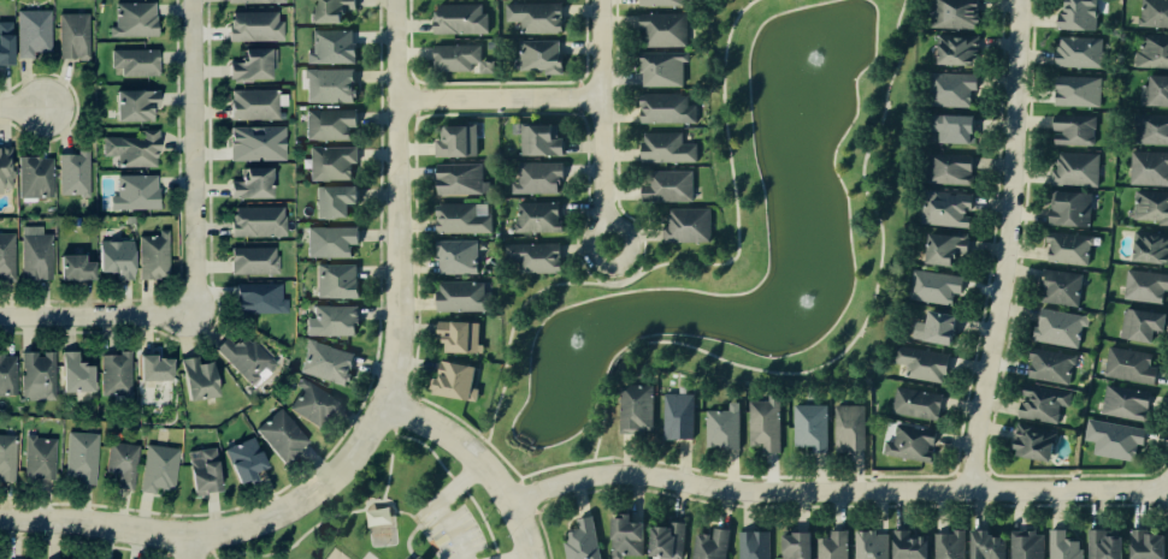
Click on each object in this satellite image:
building: (256, 1)
building: (661, 2)
building: (330, 10)
building: (954, 13)
building: (1154, 13)
building: (1078, 14)
building: (536, 17)
building: (460, 19)
building: (135, 20)
building: (255, 26)
building: (665, 29)
building: (34, 32)
building: (73, 36)
street lamp: (406, 37)
building: (6, 43)
building: (332, 47)
street lamp: (203, 49)
building: (957, 49)
building: (1080, 52)
building: (1152, 52)
building: (541, 55)
building: (460, 58)
building: (136, 61)
building: (253, 65)
building: (662, 67)
road: (496, 82)
road: (578, 82)
road: (414, 83)
building: (330, 84)
street lamp: (612, 89)
fountain: (801, 89)
building: (950, 89)
building: (1079, 90)
building: (1156, 91)
street lamp: (17, 93)
road: (579, 96)
road: (414, 97)
road: (499, 97)
building: (254, 105)
road: (77, 106)
building: (135, 106)
road: (20, 107)
street lamp: (430, 108)
building: (666, 108)
road: (578, 111)
road: (415, 113)
road: (601, 121)
building: (330, 124)
building: (954, 129)
building: (1075, 129)
building: (1151, 129)
building: (541, 139)
building: (456, 141)
building: (256, 143)
street lamp: (1025, 147)
building: (667, 148)
building: (134, 149)
road: (194, 157)
building: (331, 162)
building: (6, 167)
building: (1149, 167)
street lamp: (183, 168)
building: (948, 170)
building: (1076, 170)
building: (73, 174)
road: (728, 176)
building: (35, 177)
building: (538, 177)
building: (461, 179)
street lamp: (384, 182)
building: (252, 184)
building: (668, 185)
building: (135, 192)
building: (335, 201)
road: (399, 201)
street lamp: (590, 201)
building: (1151, 206)
building: (945, 208)
building: (1070, 208)
building: (538, 216)
building: (462, 219)
building: (258, 221)
building: (688, 225)
road: (179, 233)
park: (733, 238)
street lamp: (184, 242)
building: (331, 242)
road: (1009, 246)
building: (1151, 246)
building: (945, 248)
building: (1069, 248)
building: (36, 254)
building: (154, 256)
building: (458, 256)
building: (535, 256)
building: (7, 257)
building: (116, 258)
building: (254, 261)
building: (73, 268)
street lamp: (992, 274)
road: (210, 278)
building: (337, 281)
building: (1145, 285)
building: (934, 286)
building: (1062, 287)
building: (464, 296)
building: (259, 298)
fountain: (797, 298)
street lamp: (414, 317)
road: (94, 320)
building: (335, 320)
building: (1143, 325)
building: (1060, 327)
building: (939, 328)
road: (506, 334)
building: (460, 337)
road: (1007, 337)
road: (849, 339)
fountain: (566, 355)
building: (246, 358)
building: (326, 363)
building: (922, 363)
building: (1051, 365)
building: (1131, 365)
building: (154, 369)
building: (75, 374)
building: (7, 375)
building: (117, 375)
building: (37, 376)
building: (199, 379)
building: (455, 381)
road: (406, 392)
road: (360, 402)
building: (918, 403)
building: (1043, 403)
building: (1126, 403)
building: (313, 404)
street lamp: (365, 404)
building: (637, 408)
road: (396, 410)
street lamp: (989, 414)
building: (678, 416)
road: (458, 420)
building: (766, 423)
building: (812, 427)
building: (724, 428)
building: (850, 428)
building: (282, 435)
building: (1114, 438)
building: (912, 442)
building: (1034, 442)
road: (425, 448)
building: (82, 457)
building: (7, 458)
building: (40, 458)
road: (479, 458)
building: (244, 460)
street lamp: (615, 462)
building: (123, 463)
road: (388, 464)
building: (159, 469)
building: (205, 472)
road: (955, 472)
road: (987, 472)
road: (971, 474)
road: (519, 480)
road: (455, 484)
street lamp: (289, 488)
road: (837, 493)
street lamp: (698, 496)
road: (525, 498)
street lamp: (1122, 500)
road: (437, 504)
road: (826, 506)
park: (361, 509)
road: (536, 512)
building: (378, 516)
park: (480, 518)
street lamp: (179, 519)
road: (482, 522)
parking lot: (448, 527)
road: (308, 528)
road: (420, 529)
street lamp: (39, 534)
road: (222, 534)
street lamp: (420, 535)
street lamp: (509, 536)
building: (626, 536)
building: (583, 540)
building: (668, 540)
road: (403, 541)
road: (82, 543)
building: (712, 545)
building: (755, 545)
building: (797, 545)
building: (871, 545)
building: (950, 545)
building: (986, 545)
building: (1027, 545)
building: (1105, 545)
building: (1148, 545)
building: (833, 546)
building: (908, 546)
building: (1064, 546)
road: (189, 548)
road: (190, 551)
road: (167, 554)
road: (214, 554)
road: (497, 557)
road: (519, 557)
building: (406, 558)

